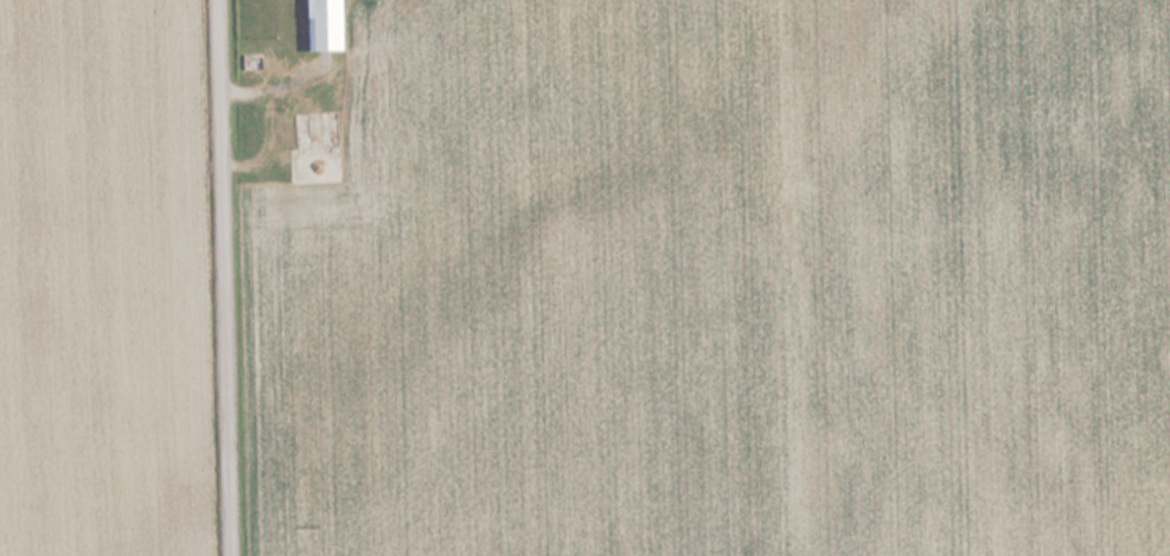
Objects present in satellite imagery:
building: (312, 32)
road: (229, 277)

